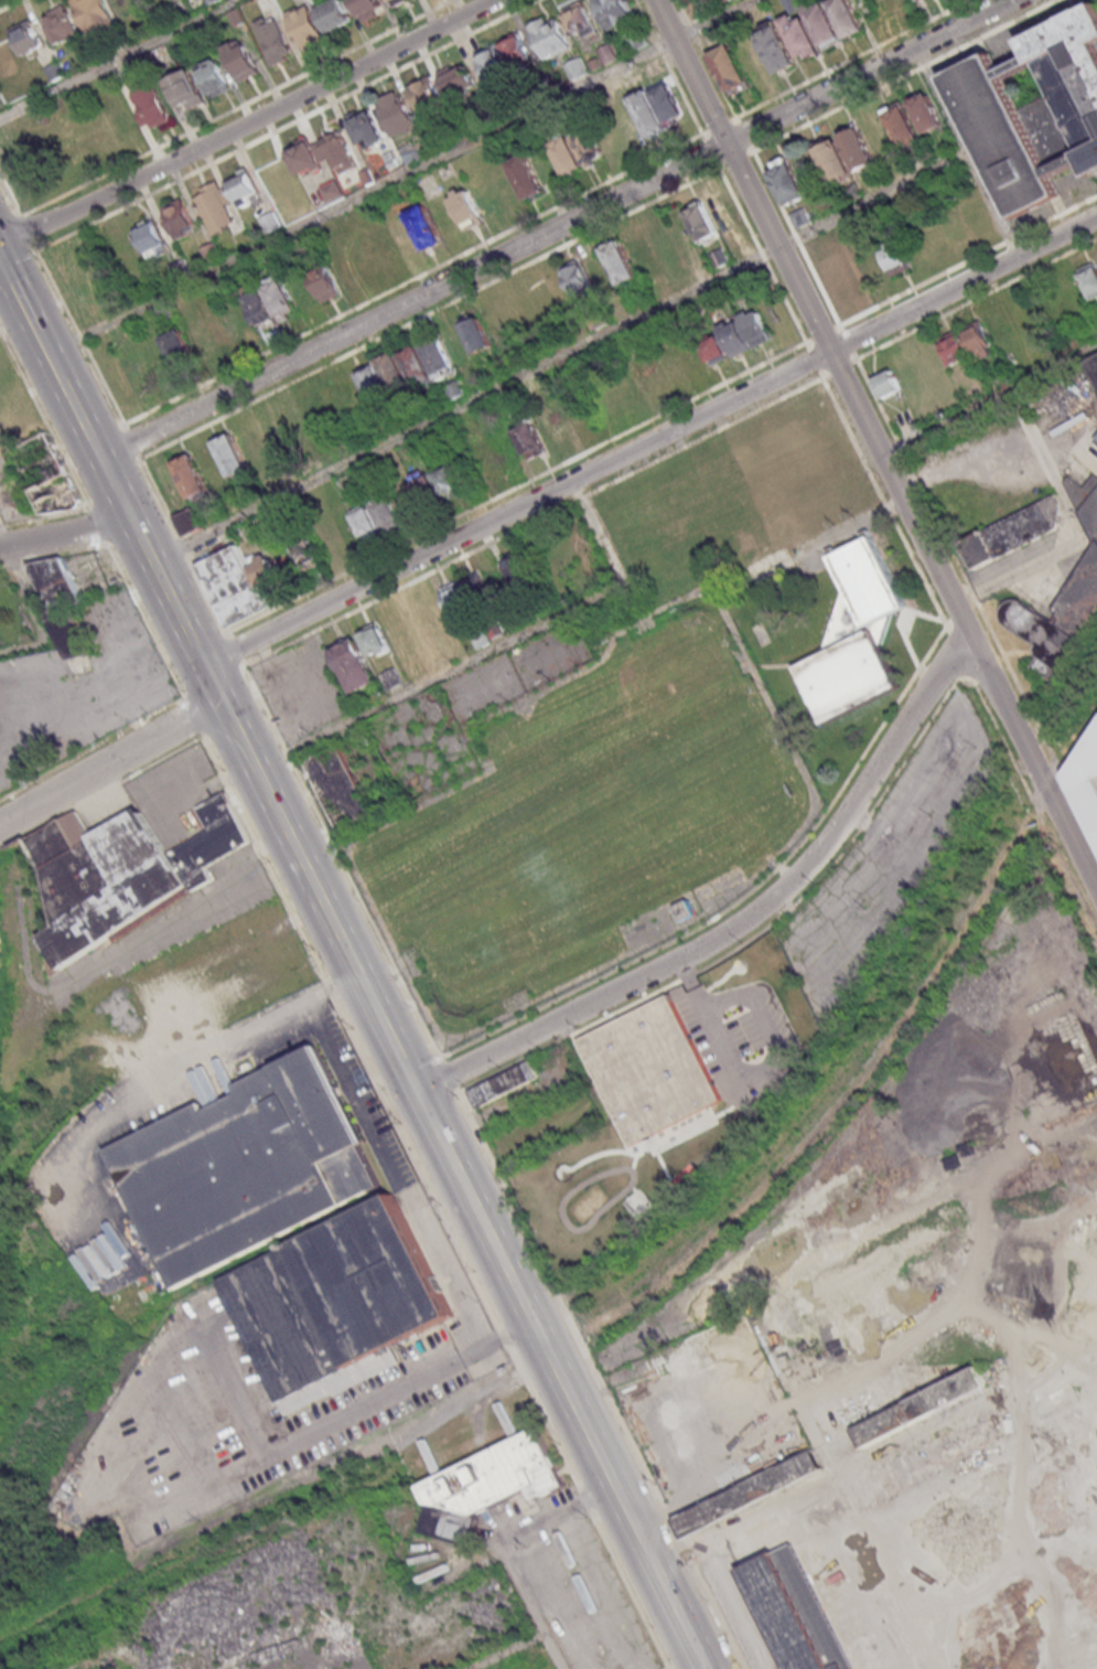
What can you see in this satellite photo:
building: (395, 1)
building: (265, 3)
building: (368, 8)
building: (697, 10)
building: (615, 12)
building: (94, 15)
building: (335, 15)
building: (578, 17)
building: (846, 17)
building: (822, 23)
building: (60, 24)
building: (304, 28)
building: (550, 35)
building: (799, 35)
building: (25, 38)
building: (273, 39)
building: (637, 40)
building: (775, 46)
building: (516, 50)
road: (115, 56)
building: (240, 58)
building: (493, 64)
building: (729, 68)
building: (55, 69)
building: (212, 77)
building: (459, 83)
building: (184, 88)
building: (426, 94)
road: (943, 99)
building: (149, 104)
building: (658, 108)
building: (1035, 109)
building: (925, 111)
building: (397, 114)
road: (247, 124)
building: (901, 125)
building: (366, 129)
building: (857, 149)
building: (578, 150)
building: (338, 152)
building: (410, 153)
building: (303, 156)
building: (833, 162)
road: (399, 175)
building: (526, 176)
building: (787, 182)
building: (244, 186)
building: (331, 192)
building: (215, 206)
building: (466, 208)
building: (179, 217)
building: (701, 221)
building: (423, 225)
road: (555, 228)
building: (151, 237)
building: (211, 252)
building: (894, 258)
building: (620, 261)
building: (370, 270)
building: (577, 279)
building: (1089, 279)
building: (324, 283)
road: (17, 293)
building: (269, 301)
road: (611, 330)
building: (746, 331)
building: (476, 333)
building: (979, 340)
building: (189, 342)
building: (712, 347)
building: (955, 347)
building: (427, 360)
building: (1094, 368)
building: (383, 378)
building: (886, 383)
road: (991, 400)
building: (538, 434)
road: (878, 438)
road: (648, 440)
building: (230, 454)
building: (190, 475)
building: (438, 485)
building: (1086, 503)
building: (386, 511)
building: (365, 521)
building: (187, 523)
road: (64, 533)
building: (1015, 533)
building: (305, 555)
building: (517, 567)
building: (55, 584)
building: (241, 584)
building: (466, 595)
road: (35, 601)
building: (1060, 627)
building: (71, 634)
building: (852, 636)
building: (375, 640)
road: (491, 650)
building: (354, 664)
road: (785, 666)
building: (391, 677)
park: (484, 689)
road: (109, 763)
park: (627, 770)
building: (1088, 775)
building: (335, 789)
road: (368, 832)
building: (212, 843)
road: (781, 868)
building: (105, 882)
road: (194, 909)
building: (687, 911)
road: (741, 919)
building: (0, 940)
road: (624, 964)
road: (369, 1001)
road: (419, 1020)
road: (442, 1048)
building: (652, 1068)
road: (179, 1078)
road: (448, 1078)
road: (755, 1080)
building: (503, 1083)
traffic signals: (415, 1091)
building: (243, 1166)
road: (395, 1175)
building: (344, 1308)
road: (596, 1380)
road: (333, 1420)
building: (487, 1483)
road: (548, 1518)
road: (529, 1604)
building: (796, 1609)
road: (508, 1651)

